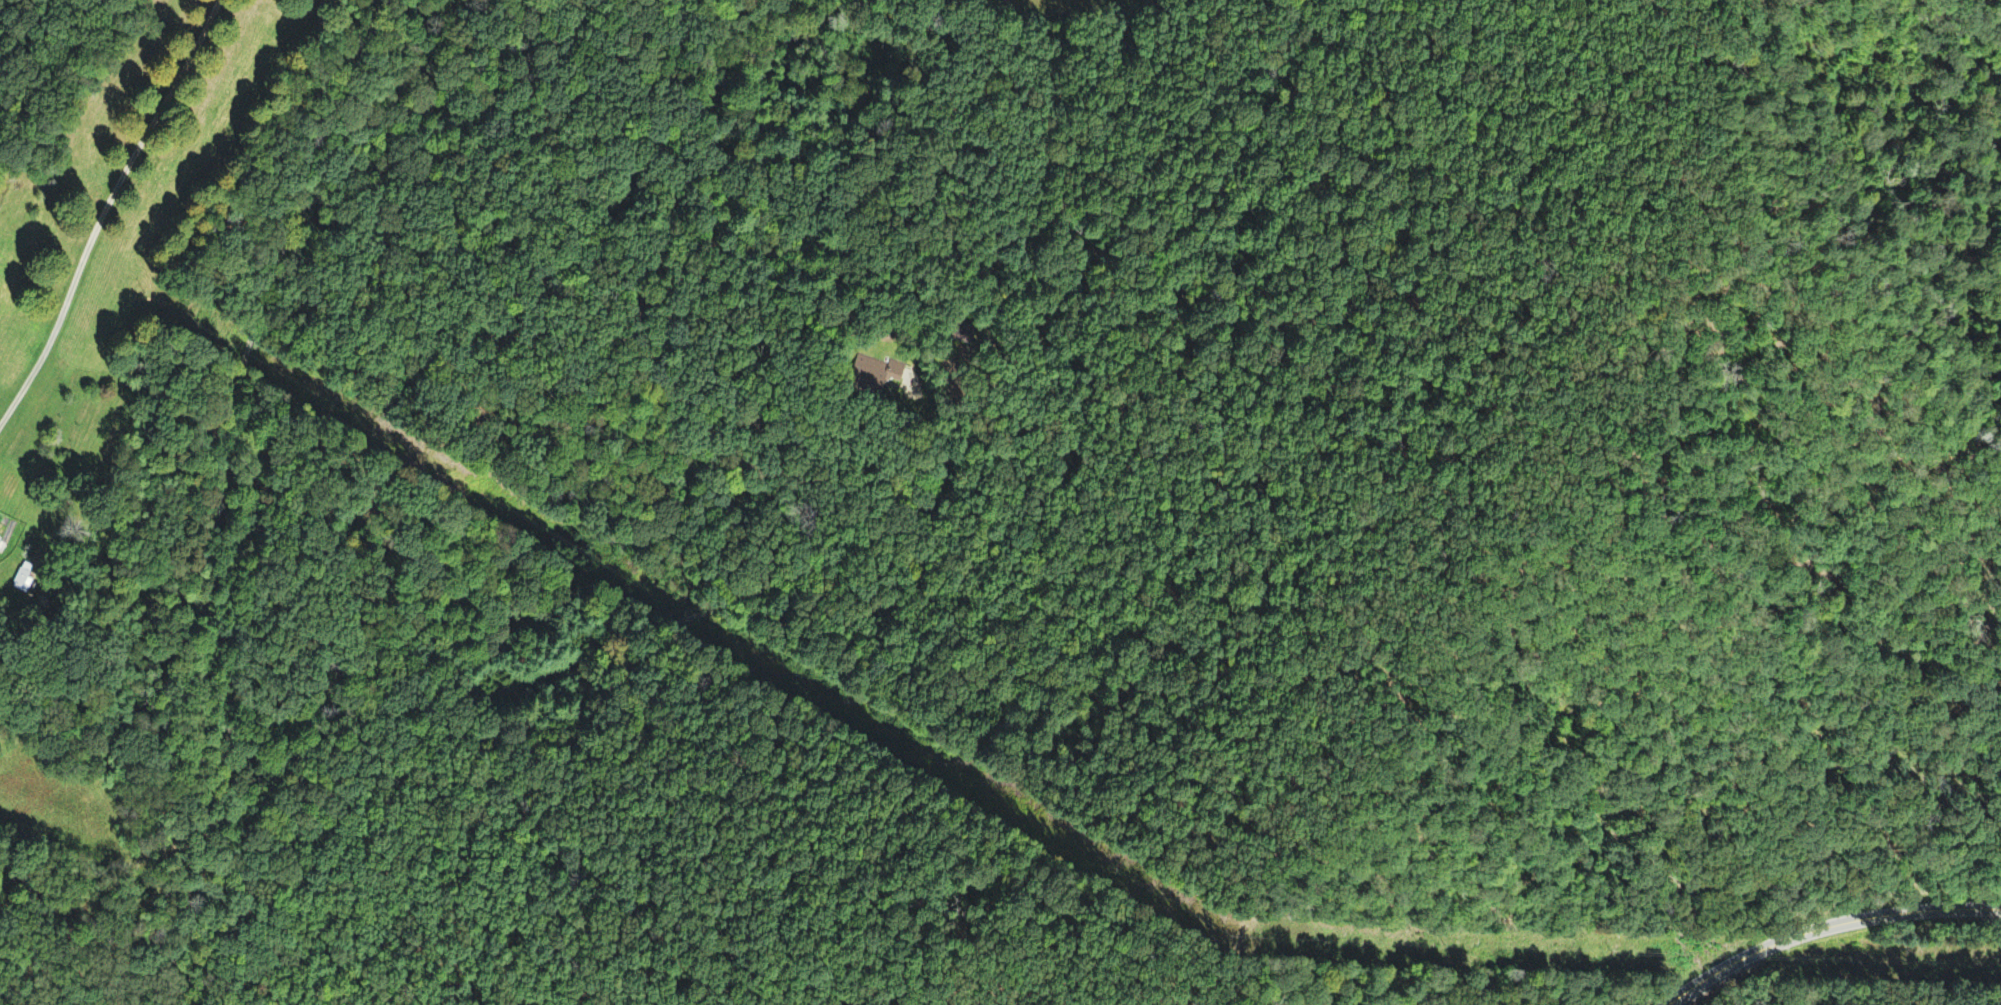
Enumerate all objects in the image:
park: (36, 34)
road: (205, 482)
road: (597, 638)
road: (1828, 929)

